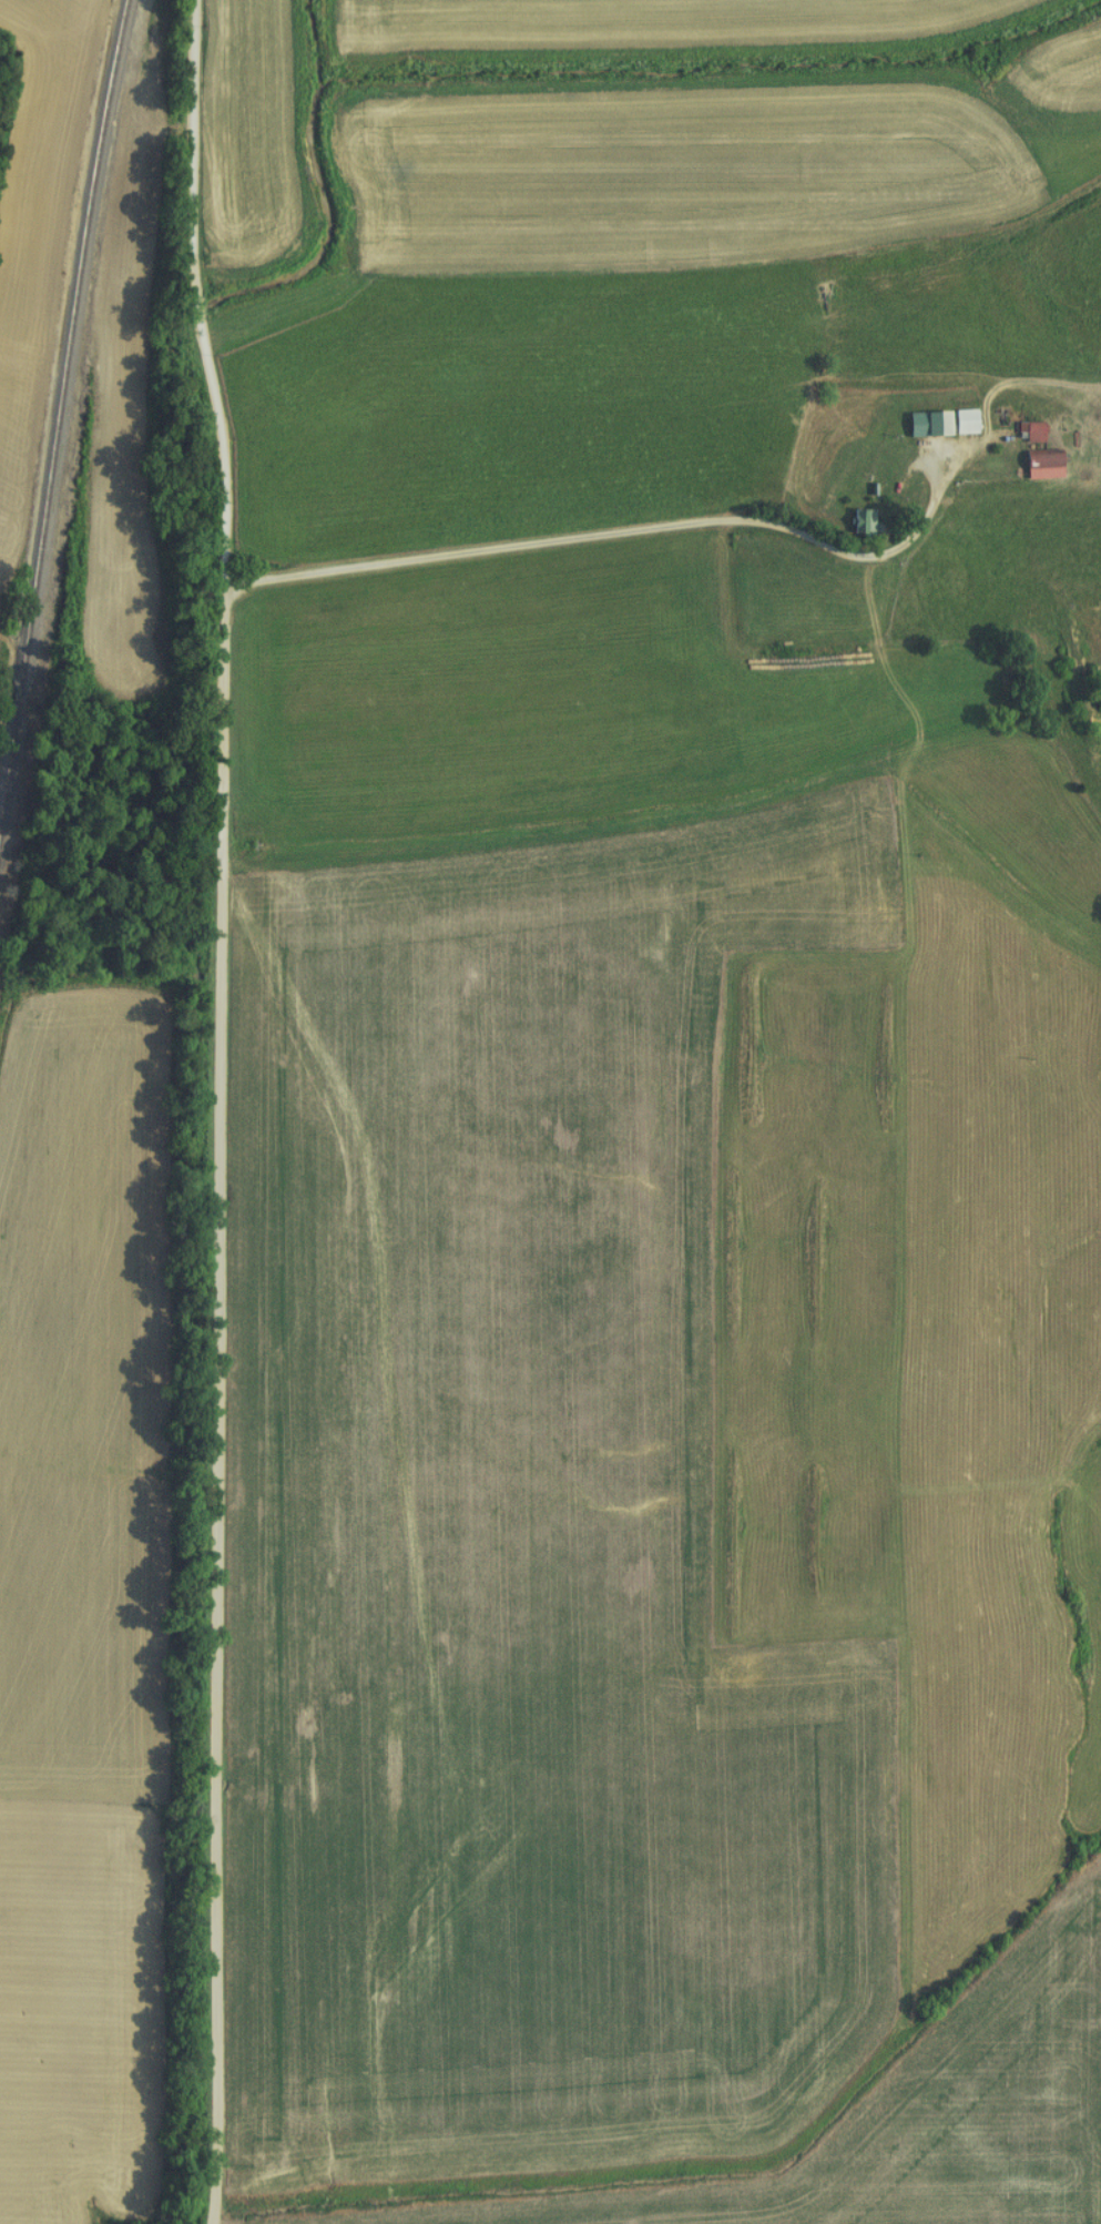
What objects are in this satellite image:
railway: (62, 343)
building: (960, 422)
building: (1026, 431)
building: (1038, 464)
building: (857, 521)
road: (608, 532)
railway: (13, 712)
railway: (6, 774)
road: (221, 1110)

